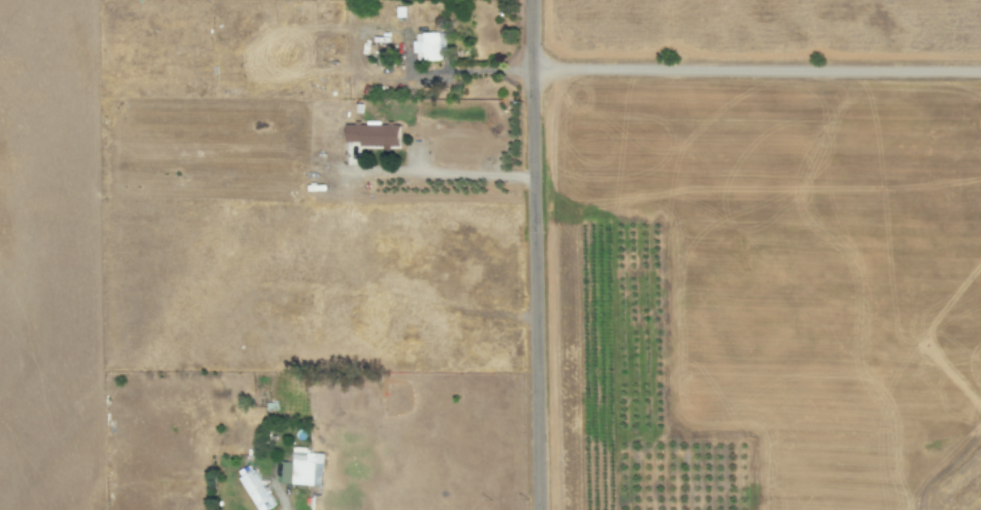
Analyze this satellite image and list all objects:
building: (428, 45)
road: (752, 68)
road: (464, 71)
building: (373, 134)
road: (437, 174)
road: (530, 254)
building: (302, 468)
building: (255, 488)
road: (280, 509)

